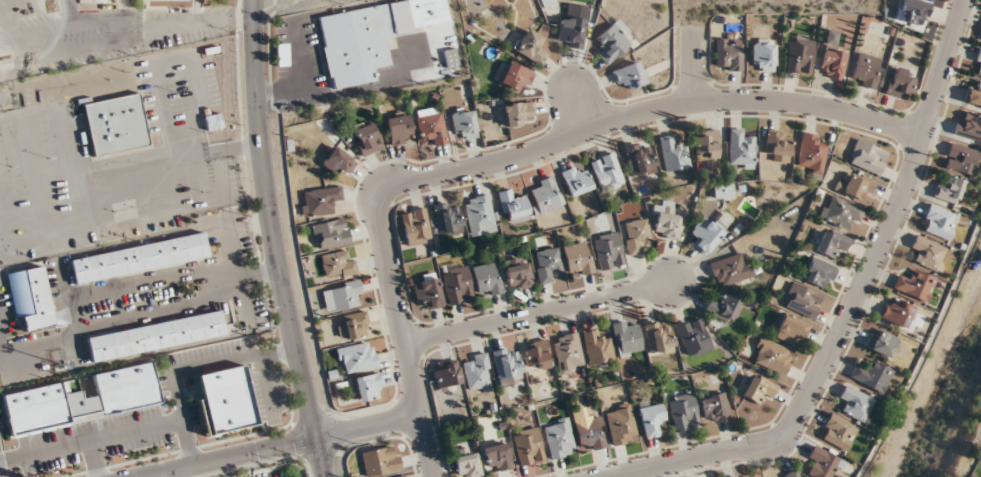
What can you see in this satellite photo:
building: (110, 2)
building: (546, 3)
road: (70, 11)
building: (912, 13)
road: (195, 21)
building: (573, 25)
road: (128, 35)
building: (369, 37)
road: (11, 38)
building: (612, 41)
building: (531, 46)
building: (282, 54)
building: (729, 55)
building: (762, 55)
building: (799, 57)
building: (450, 58)
building: (832, 58)
building: (977, 63)
road: (692, 64)
building: (865, 70)
building: (515, 76)
building: (899, 84)
building: (974, 93)
building: (514, 113)
building: (212, 121)
building: (464, 122)
building: (115, 124)
building: (432, 125)
building: (968, 126)
building: (400, 130)
building: (367, 138)
building: (705, 145)
building: (777, 146)
building: (740, 149)
building: (673, 153)
building: (811, 153)
building: (868, 156)
road: (509, 159)
building: (640, 159)
building: (961, 159)
building: (337, 162)
building: (606, 172)
building: (576, 181)
building: (858, 187)
building: (948, 188)
building: (723, 191)
building: (546, 196)
building: (320, 200)
building: (513, 205)
building: (840, 212)
building: (480, 215)
building: (447, 218)
building: (665, 219)
building: (939, 221)
building: (415, 226)
building: (710, 231)
building: (330, 234)
building: (637, 236)
road: (272, 240)
building: (830, 242)
building: (608, 249)
building: (928, 252)
building: (139, 257)
building: (578, 258)
building: (338, 264)
building: (548, 265)
road: (234, 269)
building: (731, 269)
road: (256, 270)
building: (518, 273)
building: (819, 273)
building: (488, 279)
road: (150, 281)
building: (457, 285)
building: (914, 286)
building: (428, 292)
building: (342, 295)
building: (30, 297)
building: (802, 300)
road: (853, 306)
road: (156, 307)
building: (723, 307)
road: (70, 311)
road: (539, 312)
building: (897, 312)
building: (356, 325)
building: (790, 328)
building: (155, 336)
building: (659, 337)
building: (693, 337)
building: (627, 339)
road: (37, 341)
building: (883, 343)
road: (0, 346)
building: (597, 347)
building: (568, 353)
building: (356, 357)
building: (773, 357)
building: (538, 359)
road: (232, 360)
building: (507, 366)
building: (476, 371)
building: (446, 374)
building: (871, 375)
road: (268, 387)
building: (369, 387)
building: (758, 387)
building: (126, 388)
building: (224, 400)
building: (857, 403)
building: (34, 408)
building: (715, 408)
building: (683, 412)
building: (651, 418)
road: (182, 419)
building: (621, 424)
building: (838, 431)
building: (590, 434)
building: (559, 438)
road: (91, 440)
road: (277, 446)
building: (529, 447)
building: (497, 457)
road: (95, 459)
building: (380, 461)
building: (824, 462)
building: (467, 464)
building: (792, 474)
road: (147, 476)
building: (737, 476)

